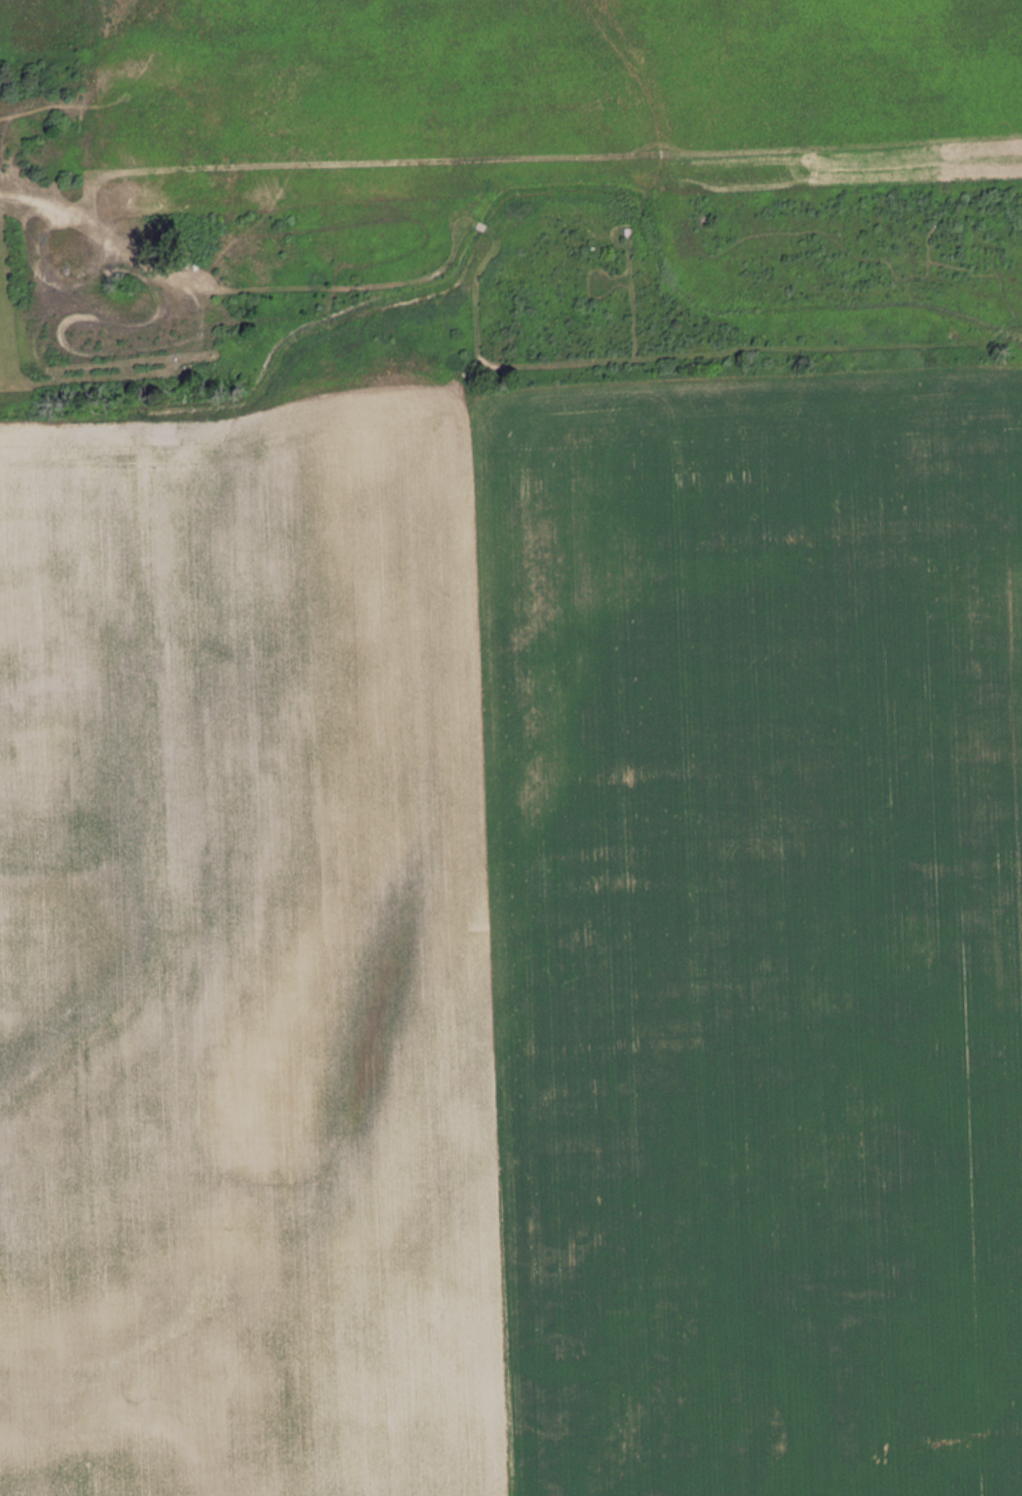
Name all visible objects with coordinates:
crop: (514, 938)

